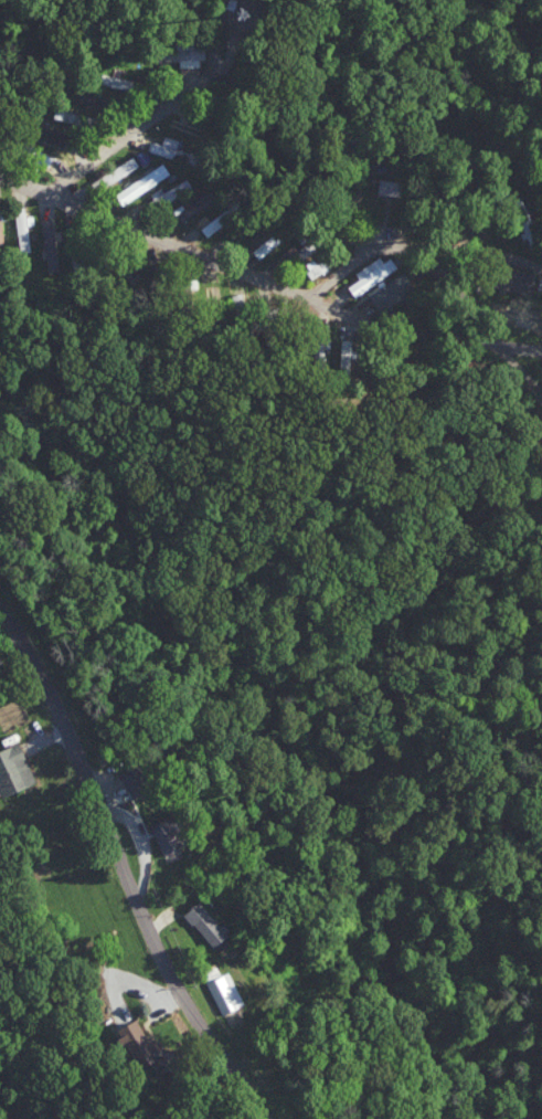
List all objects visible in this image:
building: (183, 53)
building: (116, 81)
building: (56, 135)
building: (166, 146)
road: (109, 147)
building: (116, 171)
building: (142, 182)
building: (171, 190)
building: (194, 204)
building: (214, 222)
building: (0, 224)
building: (23, 228)
building: (267, 243)
building: (50, 244)
road: (179, 246)
building: (317, 266)
building: (372, 273)
building: (520, 279)
building: (392, 289)
road: (313, 293)
building: (344, 352)
road: (518, 367)
building: (14, 769)
building: (137, 780)
building: (166, 835)
road: (124, 864)
building: (208, 922)
building: (225, 992)
building: (138, 1039)

